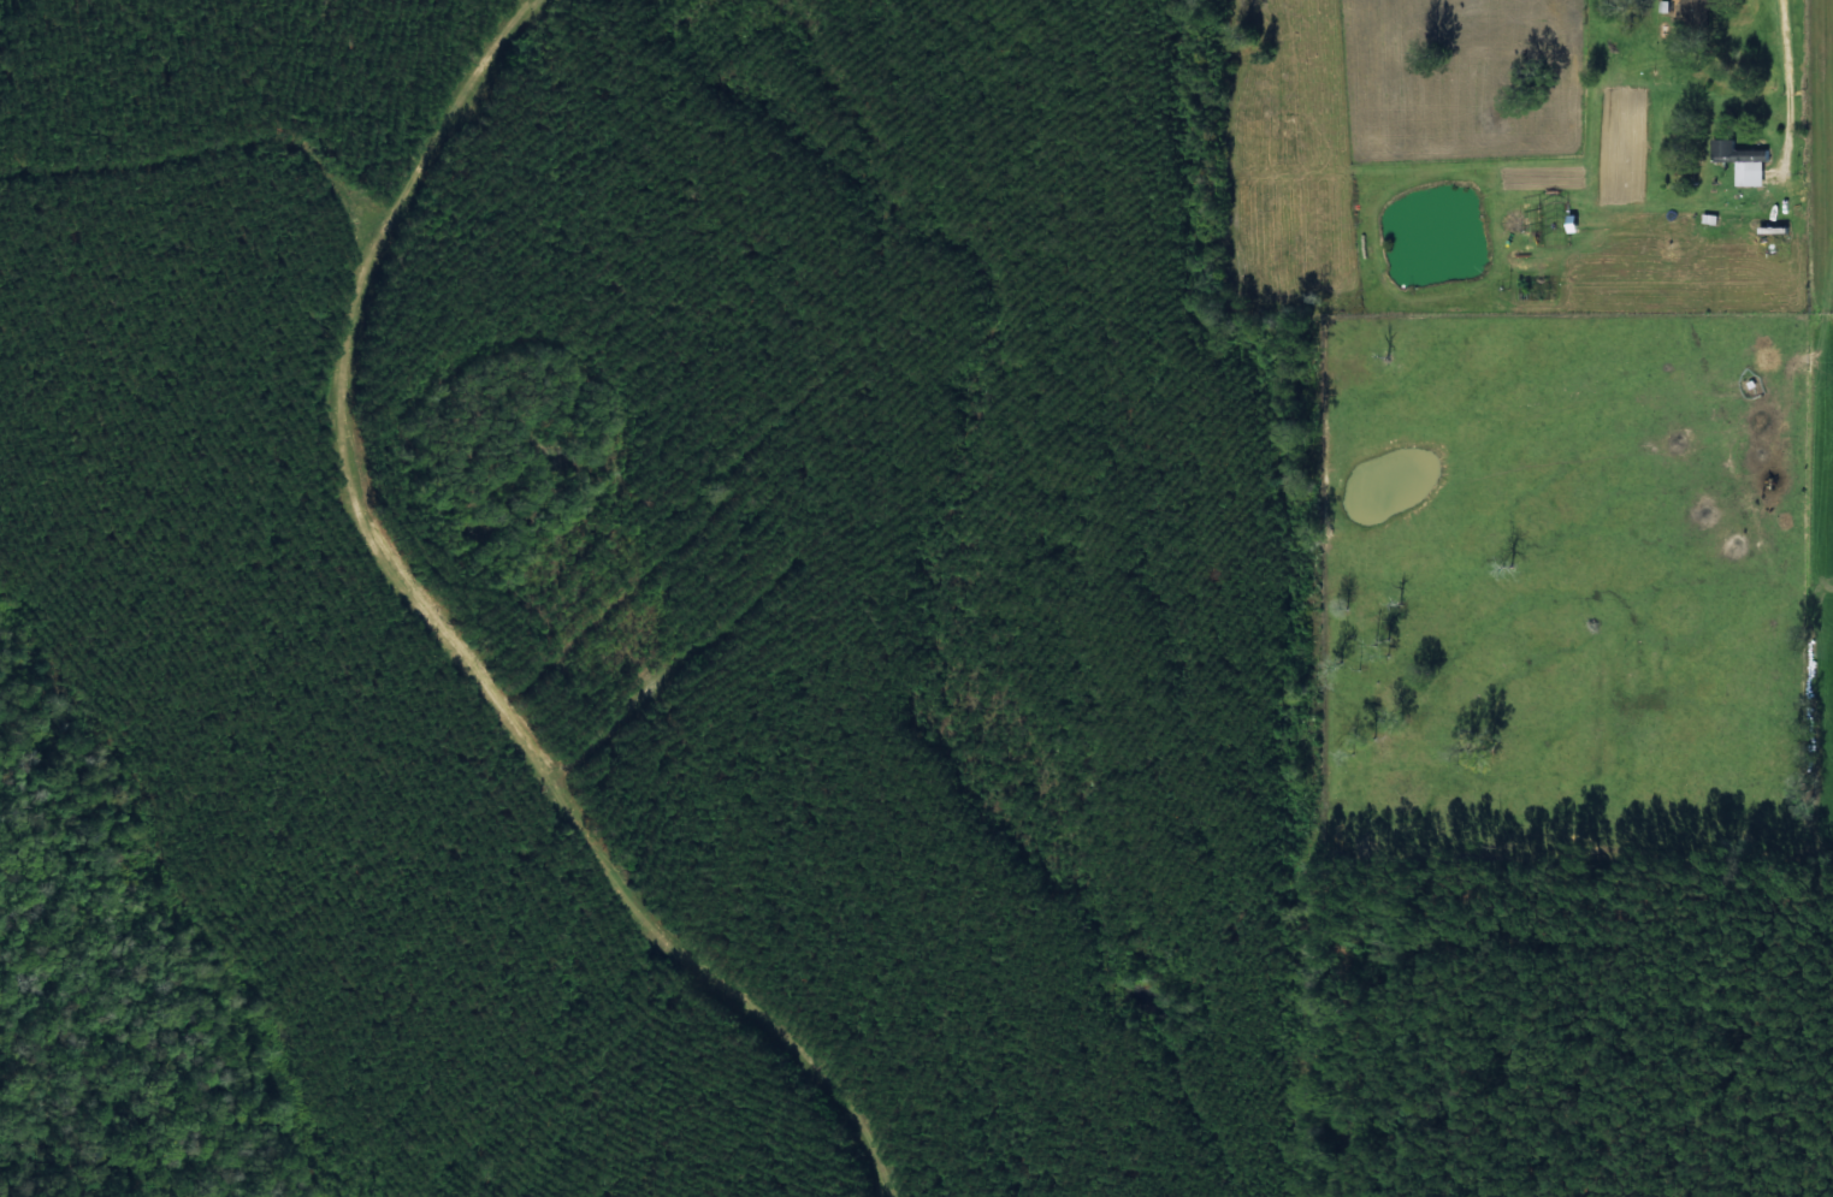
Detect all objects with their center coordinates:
road: (1448, 6)
building: (1698, 13)
road: (447, 29)
building: (1745, 161)

